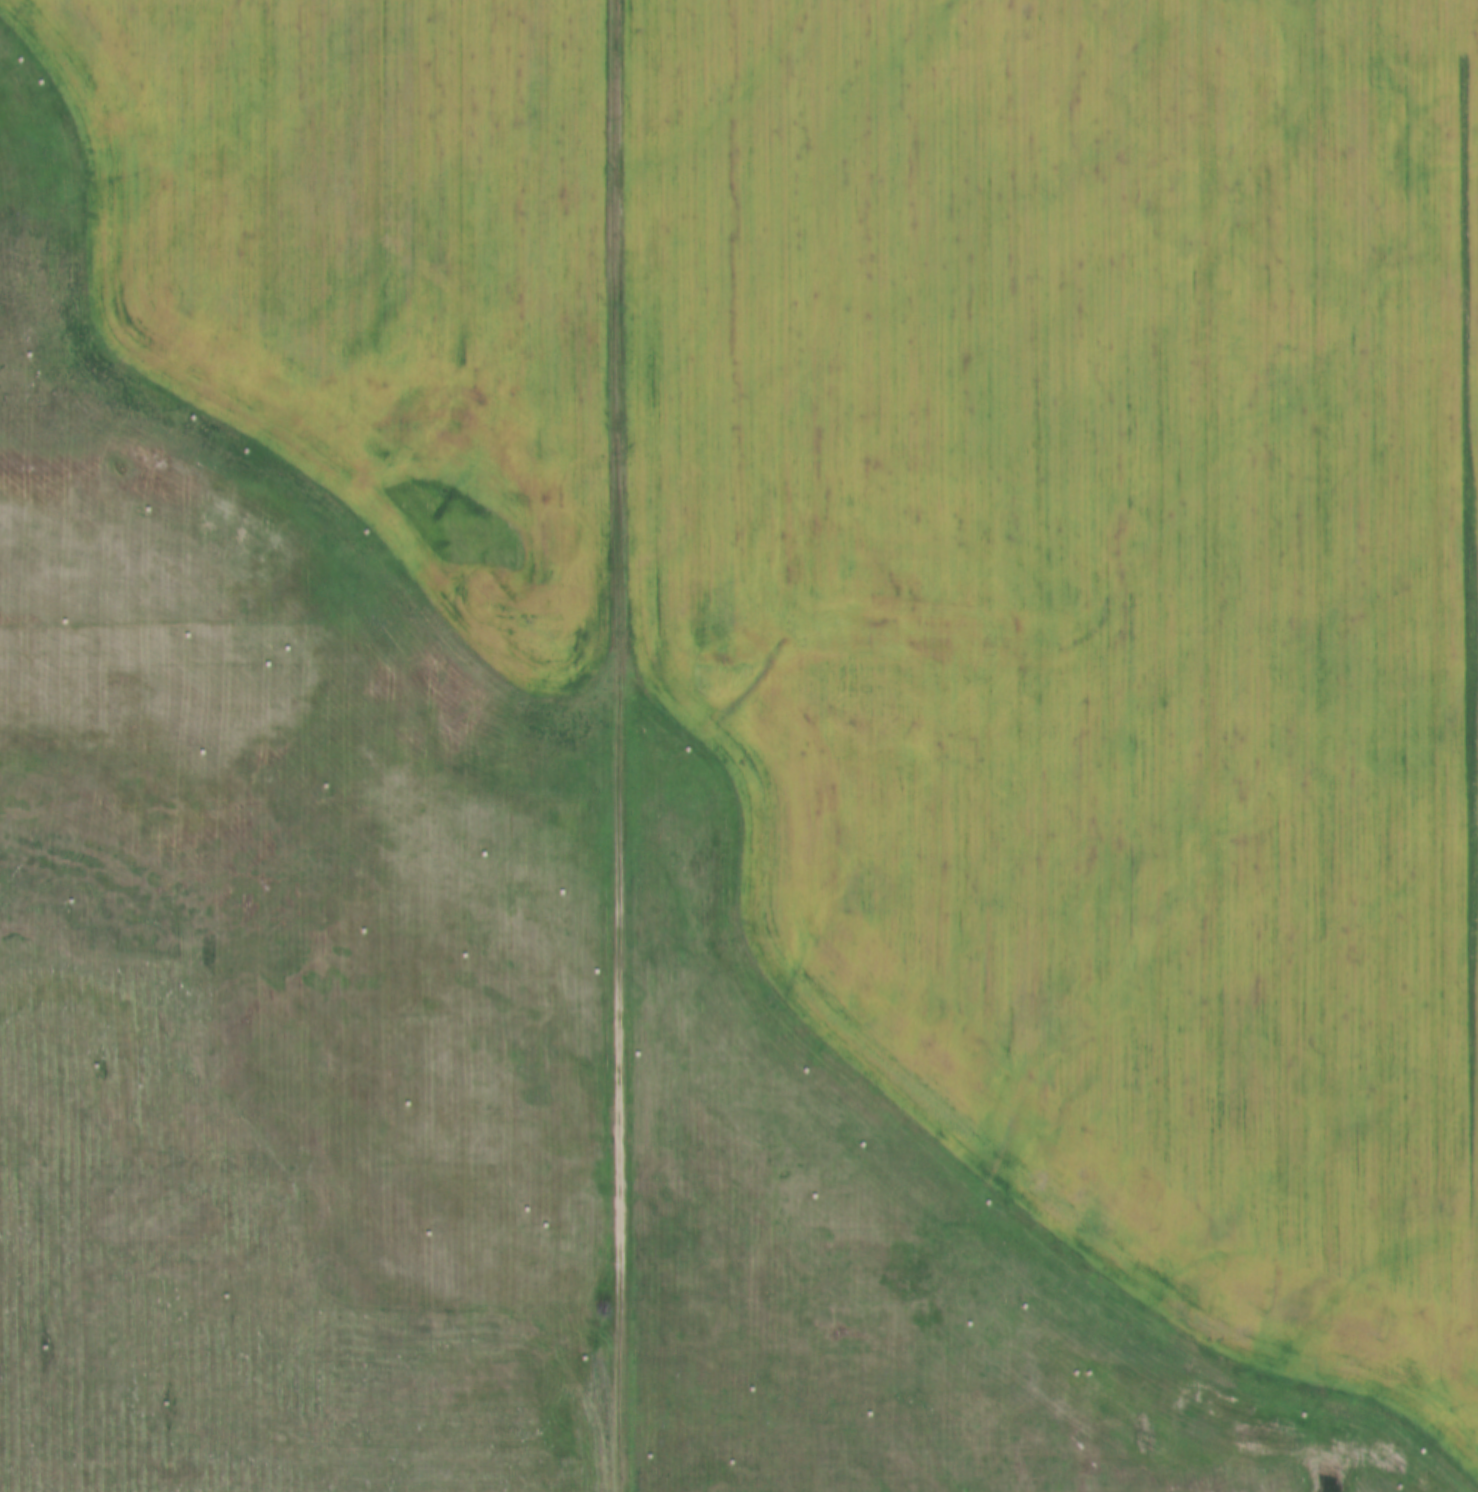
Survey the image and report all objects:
road: (619, 746)

